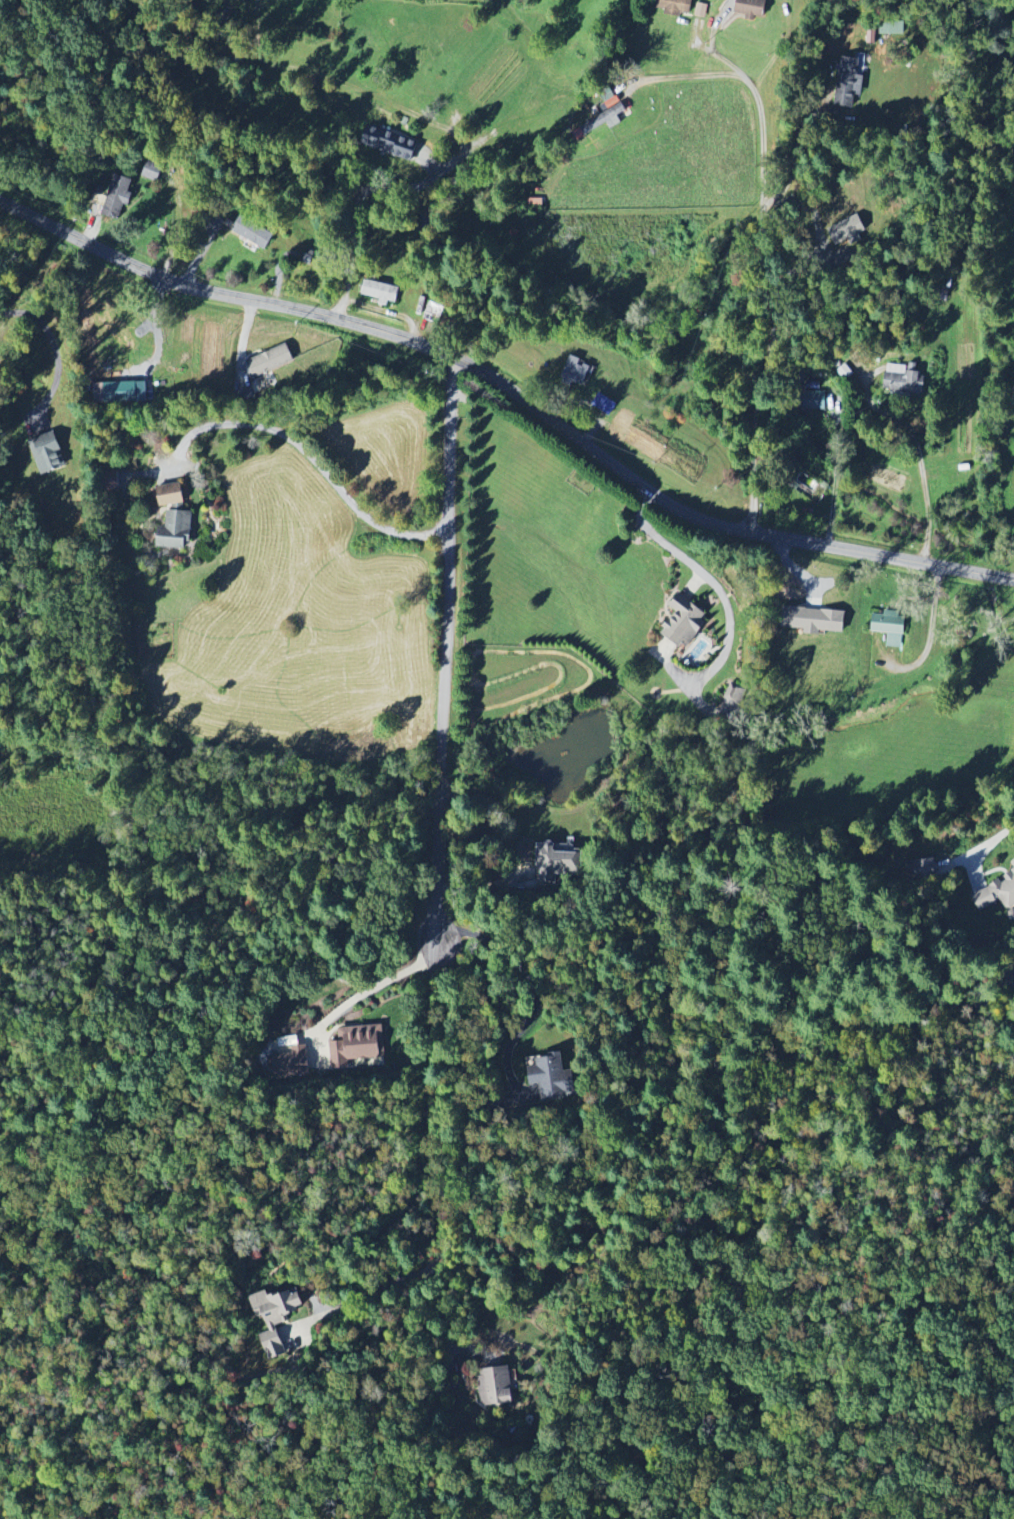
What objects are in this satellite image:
building: (753, 8)
building: (701, 11)
building: (891, 29)
road: (718, 56)
building: (850, 79)
building: (606, 116)
building: (390, 143)
road: (364, 193)
building: (118, 196)
building: (847, 230)
building: (252, 232)
building: (380, 292)
road: (769, 296)
building: (433, 313)
road: (156, 329)
building: (118, 333)
road: (54, 344)
building: (270, 361)
building: (575, 372)
building: (902, 381)
road: (510, 389)
building: (121, 393)
building: (818, 401)
building: (47, 453)
road: (919, 454)
road: (311, 455)
road: (835, 473)
building: (813, 491)
building: (171, 494)
building: (176, 530)
road: (712, 580)
building: (817, 621)
building: (685, 622)
building: (890, 628)
road: (446, 653)
building: (731, 702)
road: (990, 844)
building: (555, 863)
building: (1013, 863)
building: (922, 868)
road: (474, 888)
building: (997, 895)
road: (372, 987)
road: (525, 993)
building: (290, 1063)
building: (551, 1077)
road: (434, 1187)
building: (276, 1317)
road: (447, 1321)
building: (494, 1387)

